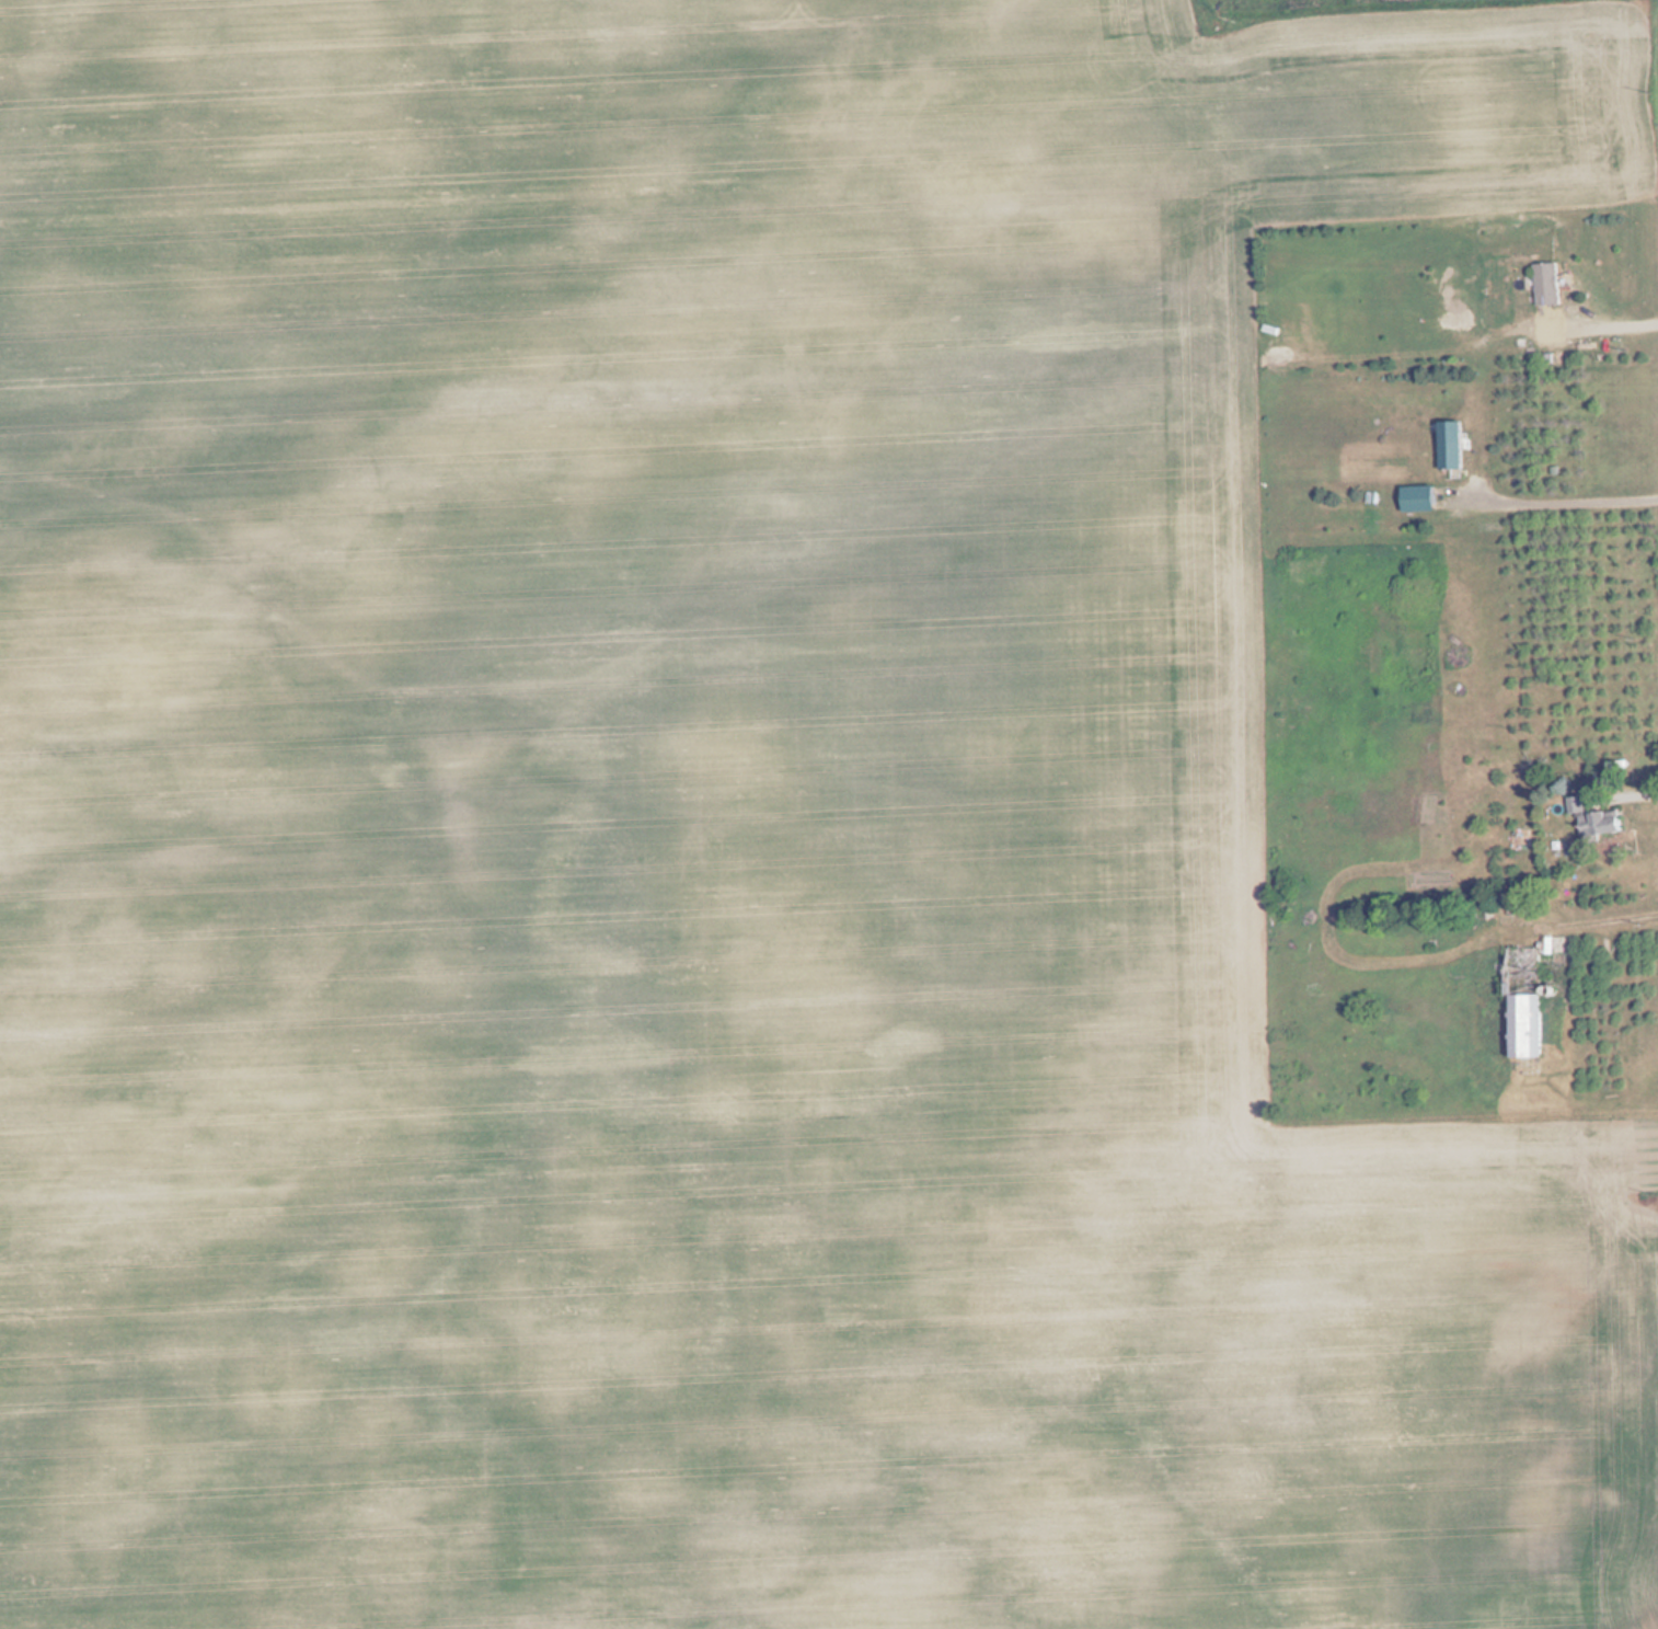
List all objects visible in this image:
building: (1543, 283)
building: (1447, 445)
building: (1413, 498)
building: (1594, 821)
building: (1519, 1000)

